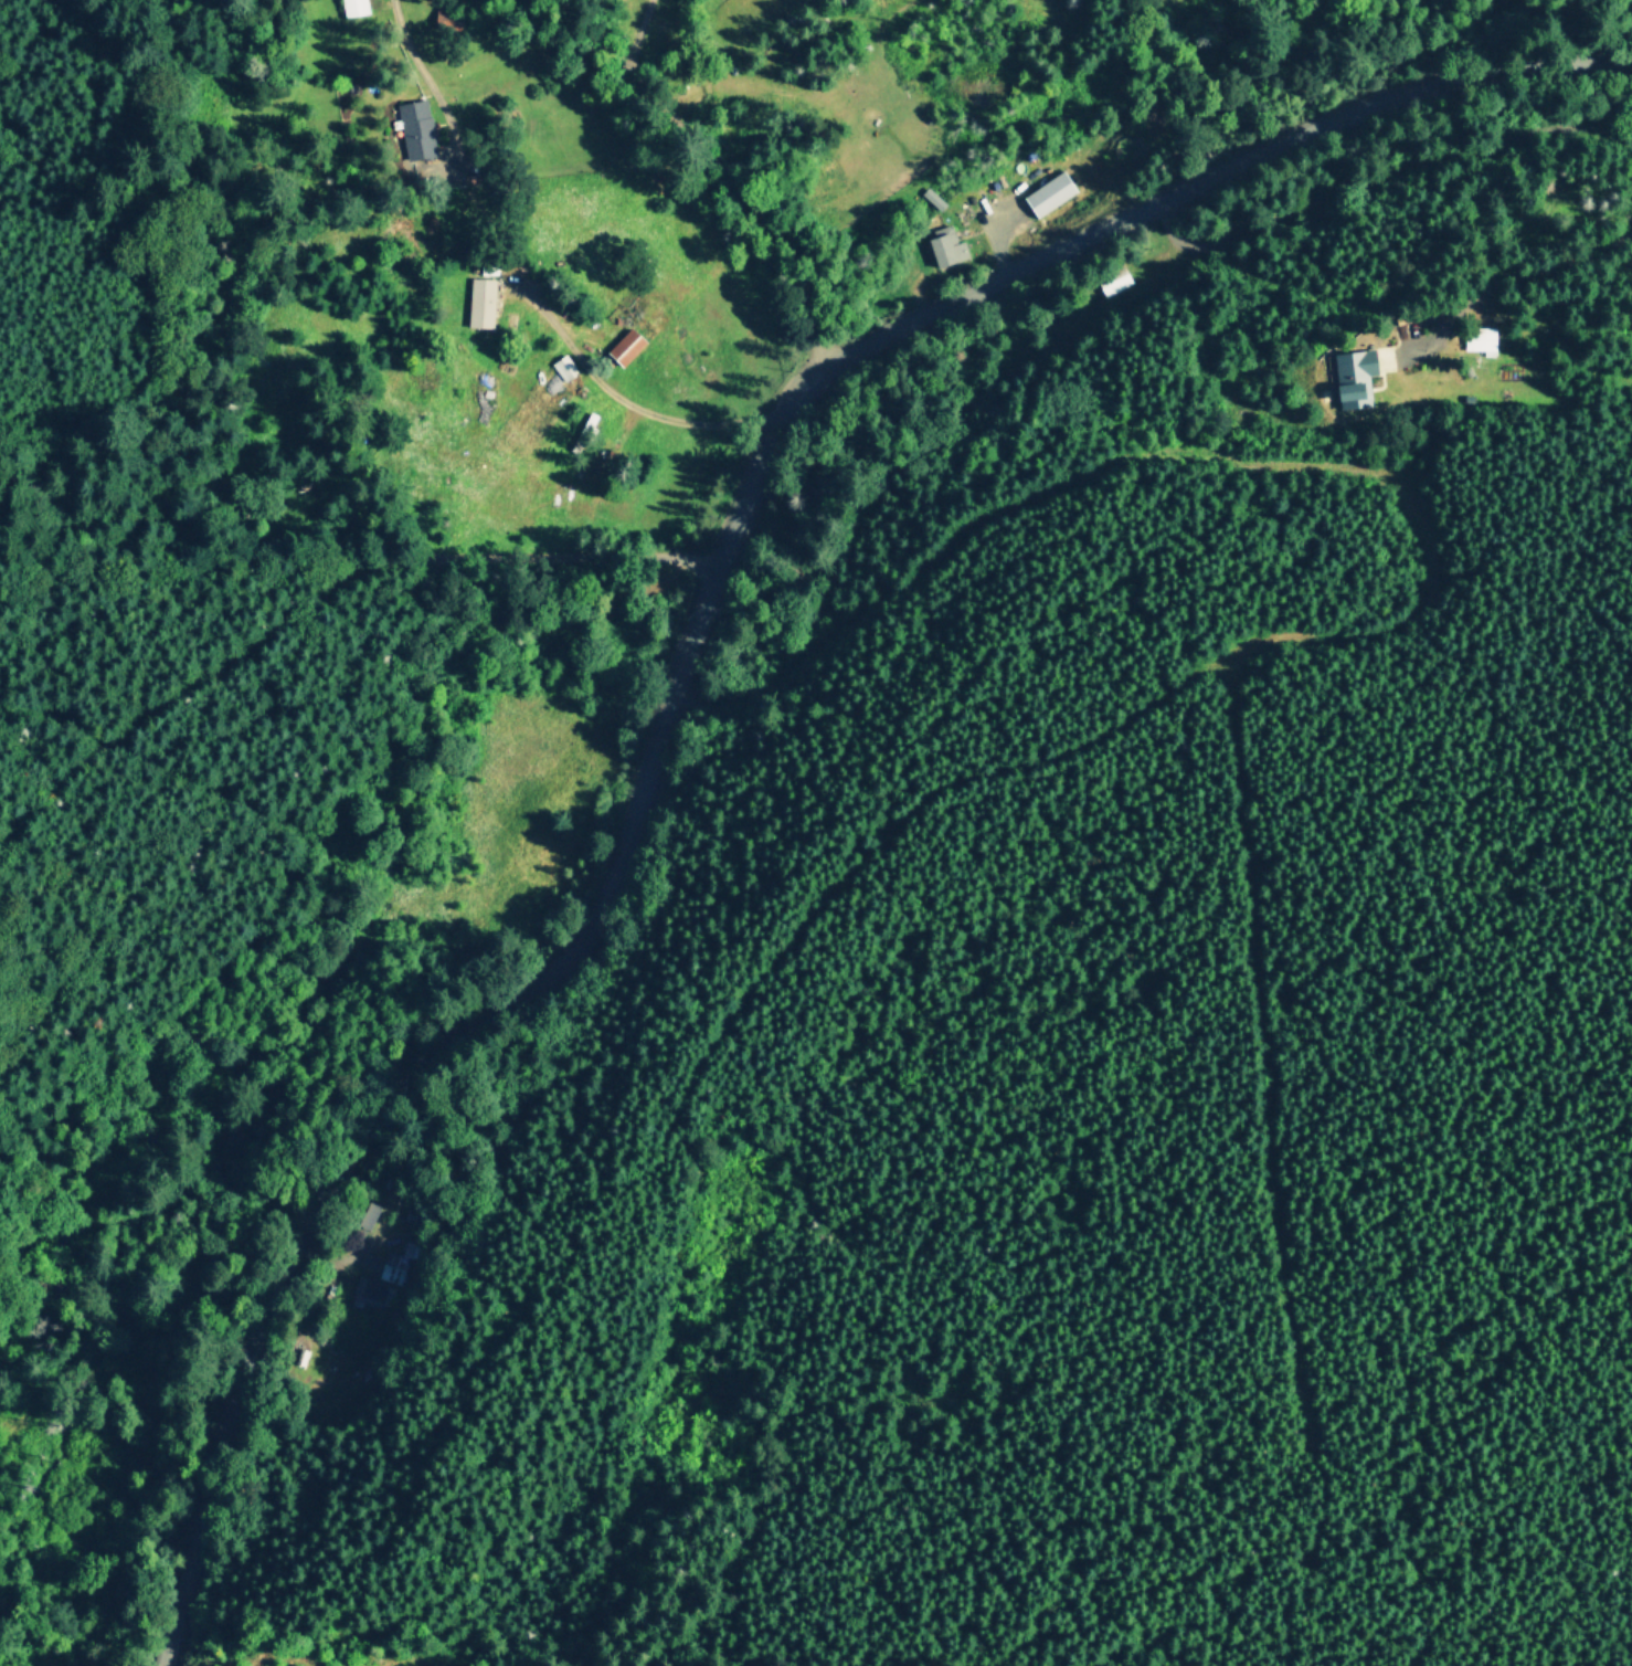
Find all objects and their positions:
building: (354, 7)
road: (639, 33)
road: (410, 44)
building: (416, 128)
road: (717, 169)
road: (1384, 178)
building: (1048, 192)
building: (945, 245)
road: (1530, 262)
building: (1114, 282)
building: (480, 302)
building: (1479, 338)
building: (625, 346)
building: (563, 367)
building: (1353, 375)
road: (628, 403)
road: (316, 591)
road: (685, 645)
building: (369, 1290)

